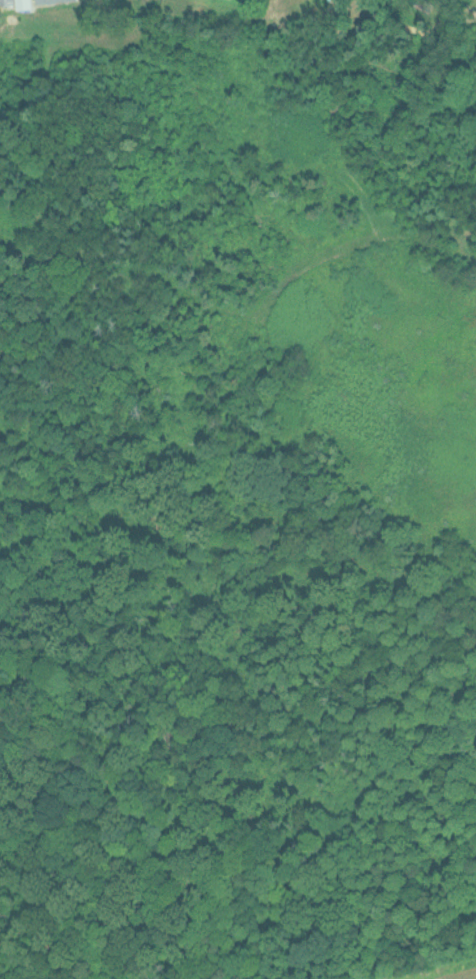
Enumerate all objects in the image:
building: (50, 0)
building: (7, 1)

